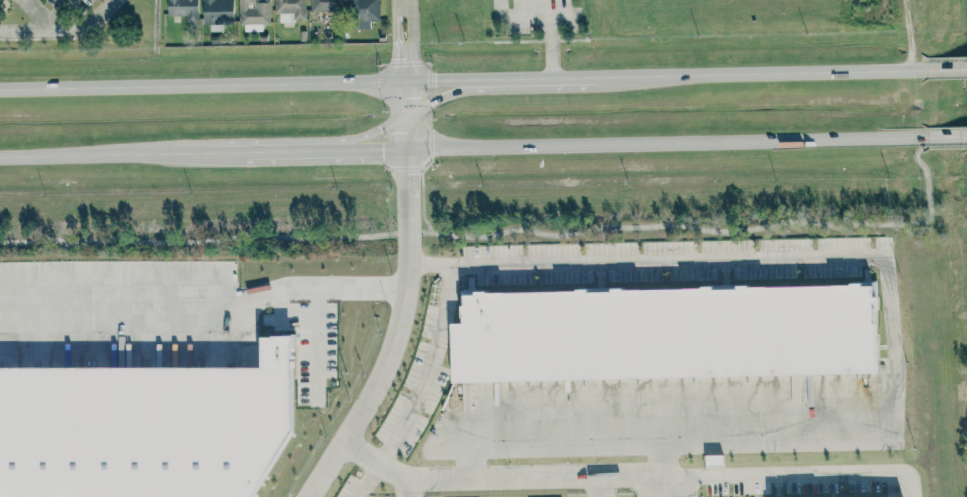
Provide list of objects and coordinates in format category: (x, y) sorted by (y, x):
road: (400, 1)
building: (325, 6)
building: (184, 9)
building: (291, 10)
road: (57, 12)
building: (218, 12)
building: (364, 13)
road: (37, 15)
building: (254, 15)
road: (561, 17)
road: (547, 18)
road: (60, 30)
road: (908, 35)
road: (402, 43)
traffic signals: (403, 58)
road: (946, 69)
road: (767, 74)
road: (555, 79)
traffic signals: (435, 82)
road: (251, 86)
road: (449, 93)
traffic signals: (438, 97)
road: (404, 116)
traffic signals: (380, 130)
road: (947, 138)
road: (353, 139)
road: (666, 143)
road: (946, 148)
road: (351, 150)
traffic signals: (382, 150)
road: (253, 153)
road: (104, 156)
road: (916, 160)
traffic signals: (405, 173)
road: (405, 185)
road: (926, 192)
road: (471, 237)
road: (202, 295)
building: (665, 333)
road: (887, 339)
road: (316, 345)
road: (382, 367)
road: (427, 368)
building: (144, 428)
road: (659, 446)
road: (628, 475)
road: (361, 479)
road: (405, 485)
road: (598, 486)
road: (664, 486)

